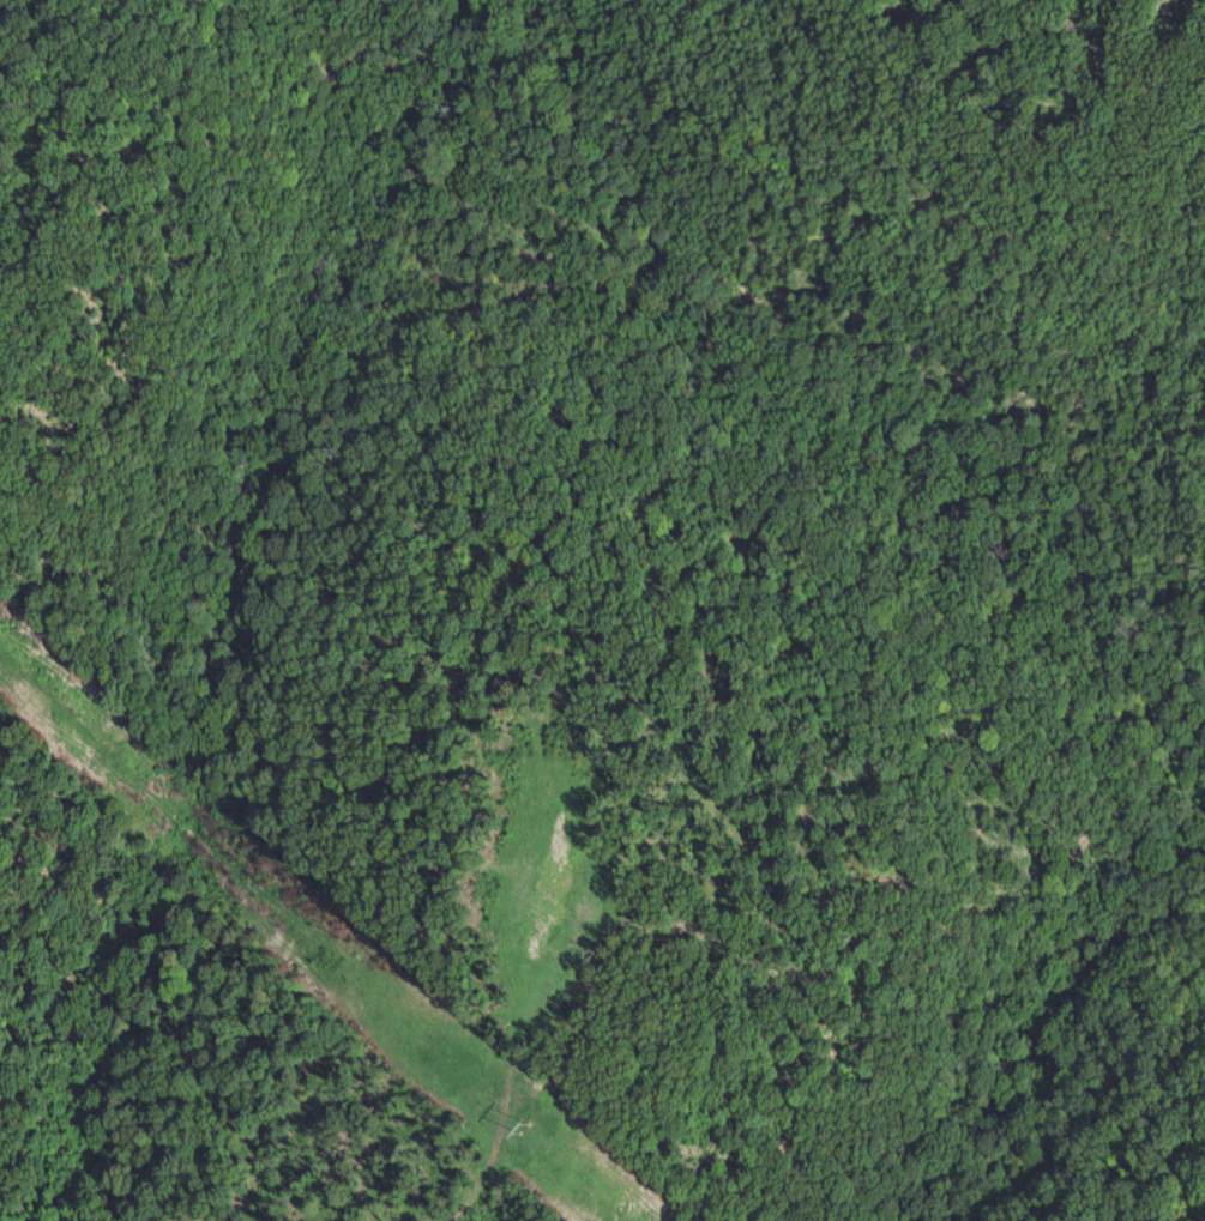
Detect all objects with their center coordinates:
power tower: (528, 1131)

